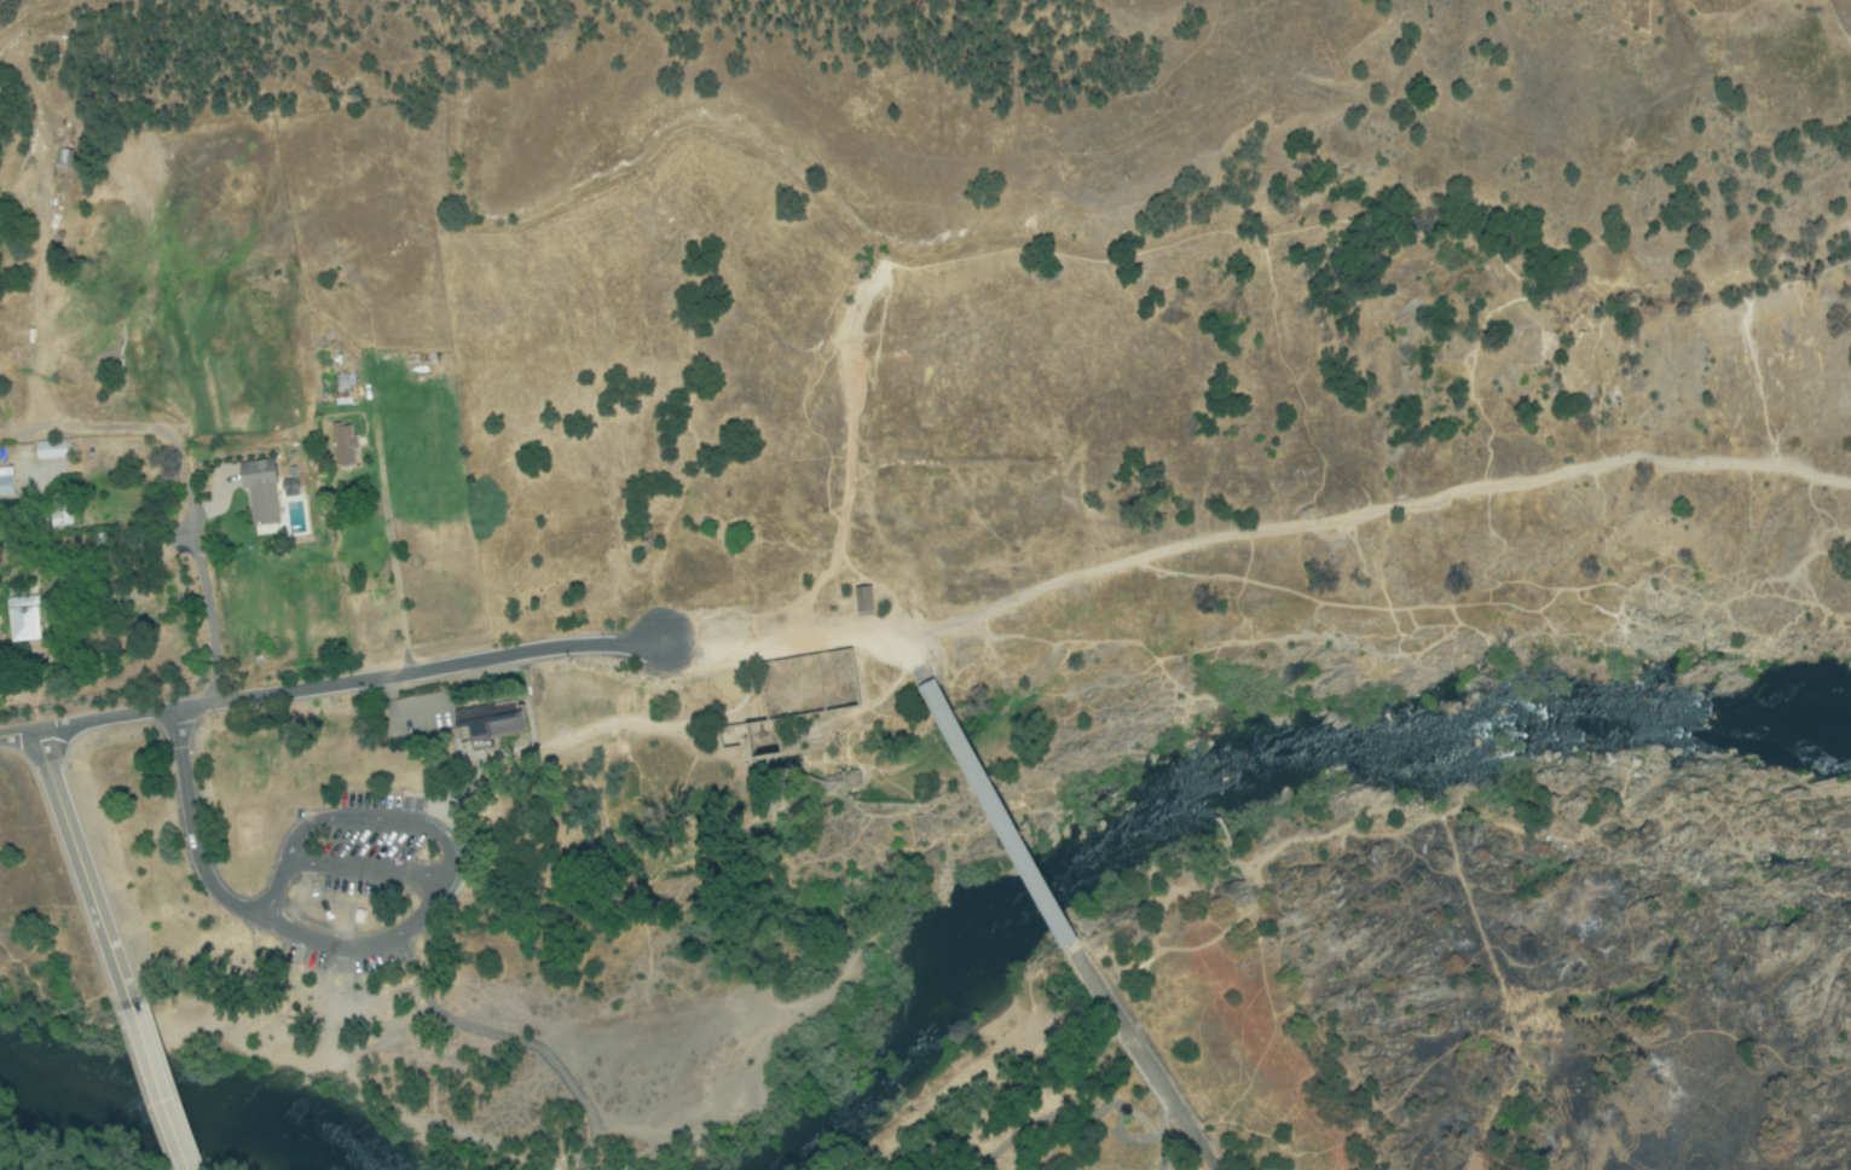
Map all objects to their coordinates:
building: (63, 160)
building: (345, 445)
building: (52, 451)
building: (6, 483)
building: (261, 492)
building: (62, 515)
building: (862, 603)
road: (209, 616)
building: (24, 620)
road: (803, 641)
road: (351, 685)
building: (938, 713)
building: (490, 722)
road: (19, 740)
building: (759, 741)
river: (1257, 794)
road: (991, 815)
road: (192, 824)
road: (447, 851)
road: (81, 863)
road: (365, 870)
parking lot: (358, 884)
park: (856, 914)
road: (498, 1037)
road: (1140, 1056)
road: (155, 1079)
river: (157, 1106)

